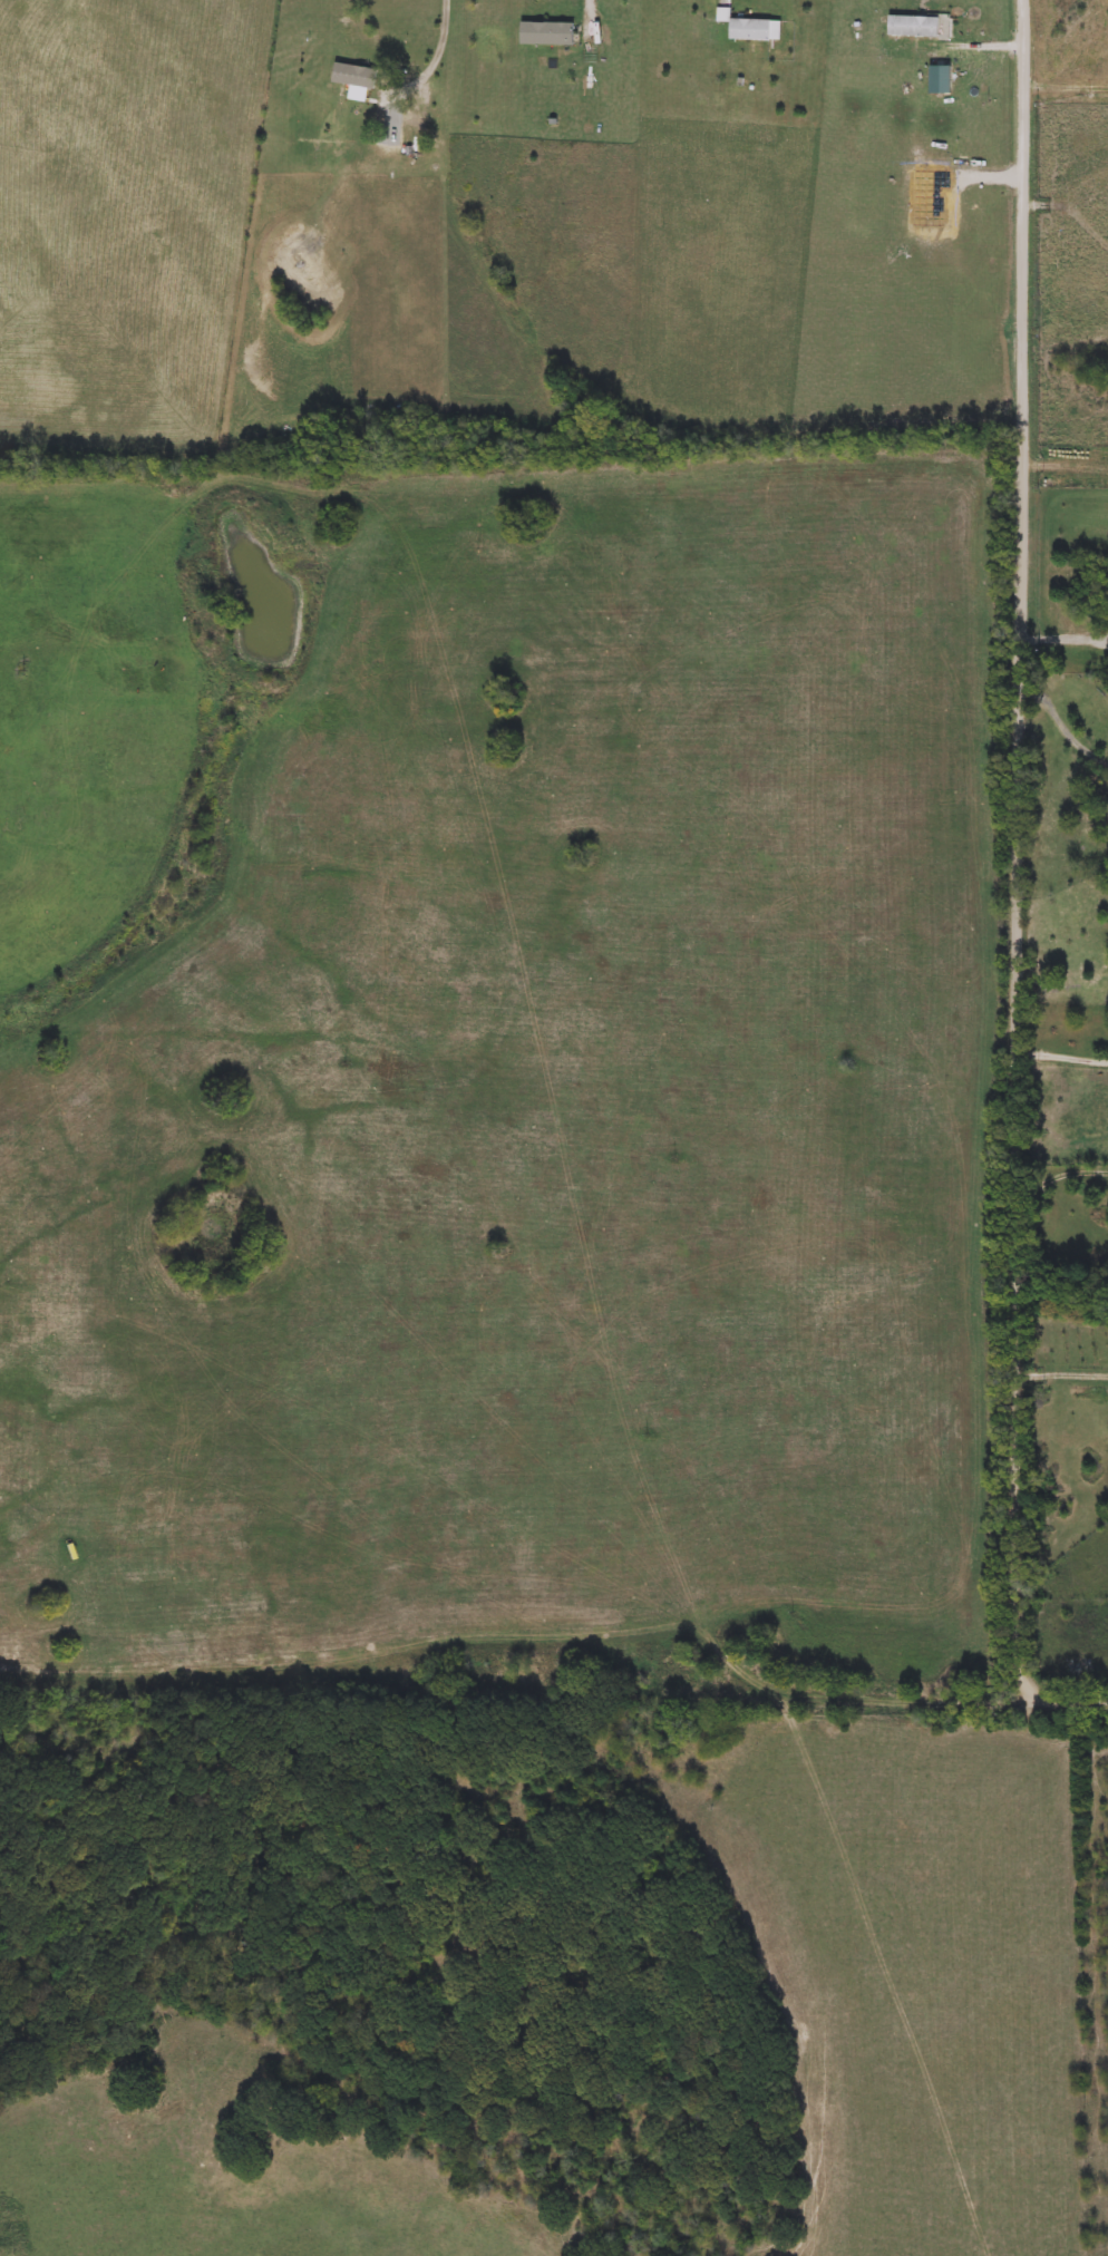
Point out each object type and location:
road: (591, 12)
building: (916, 26)
building: (758, 29)
building: (550, 33)
road: (443, 59)
building: (357, 75)
road: (1066, 458)
road: (1065, 639)
road: (1060, 726)
road: (1001, 785)
road: (1056, 1054)
road: (1091, 1173)
road: (1056, 1375)
road: (1013, 1682)

